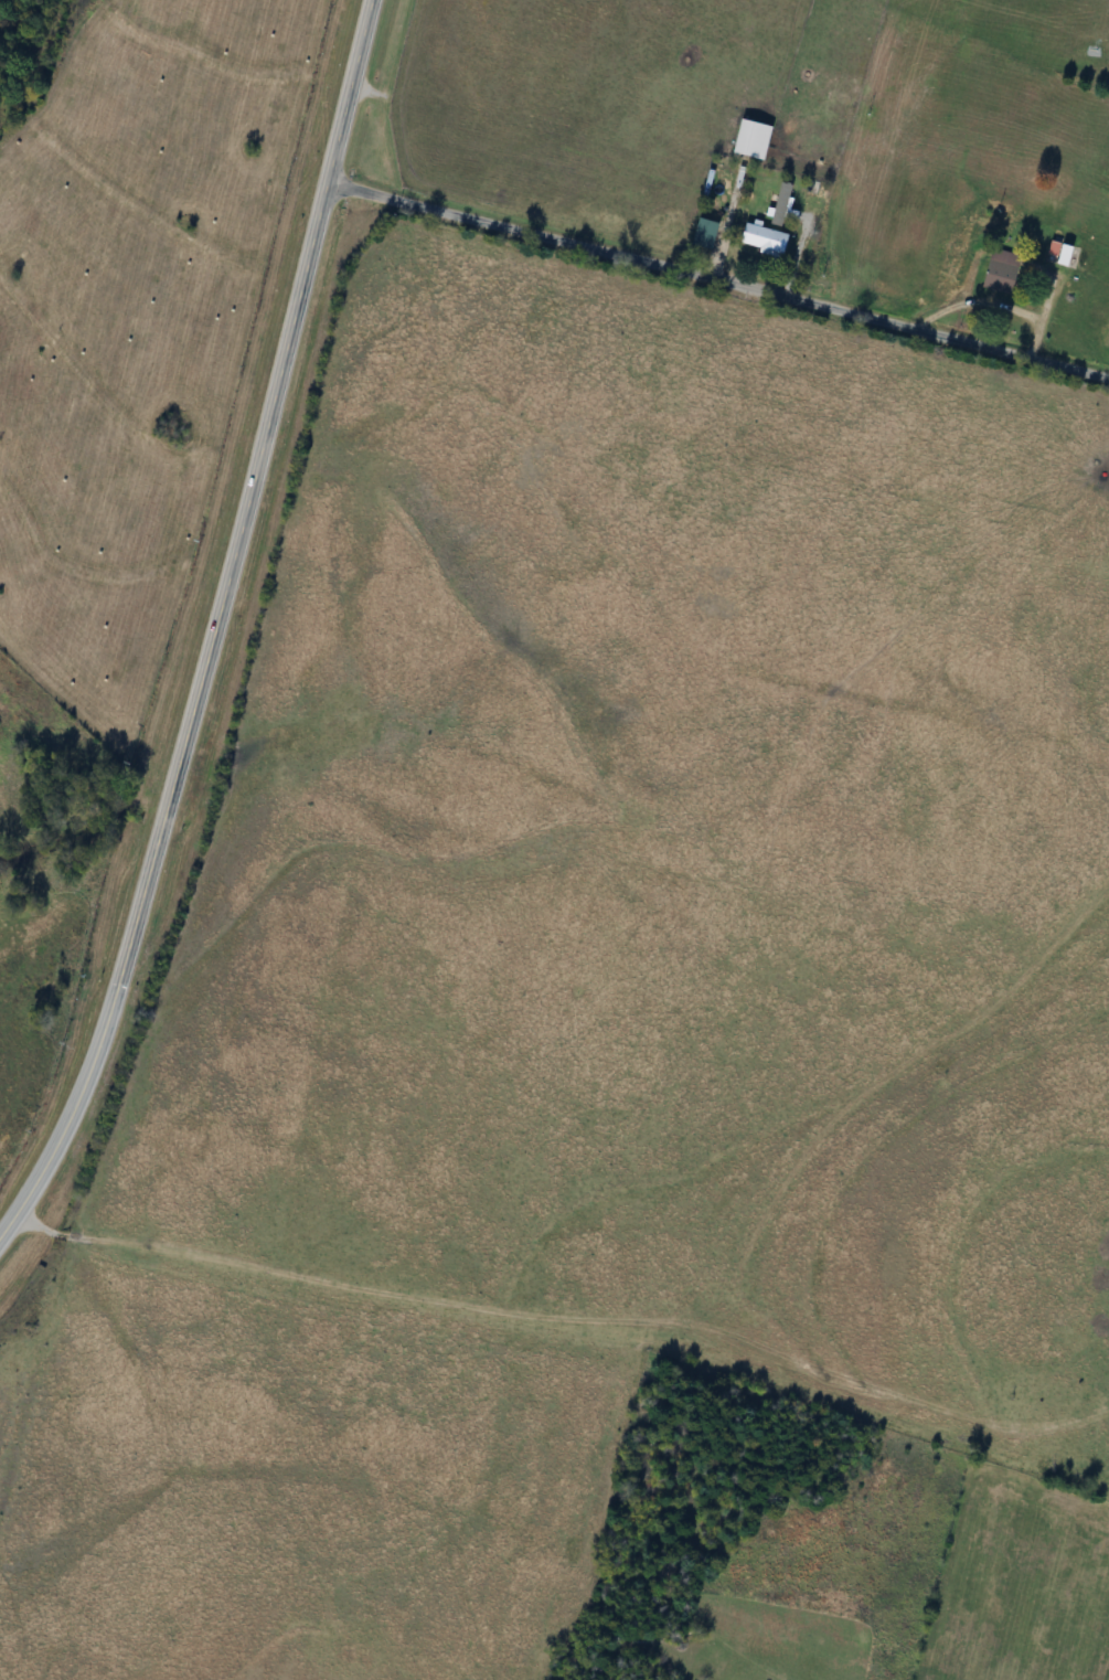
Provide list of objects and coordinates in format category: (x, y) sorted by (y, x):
building: (1058, 184)
building: (674, 217)
building: (706, 233)
building: (767, 237)
building: (1004, 272)
road: (716, 281)
road: (211, 629)

